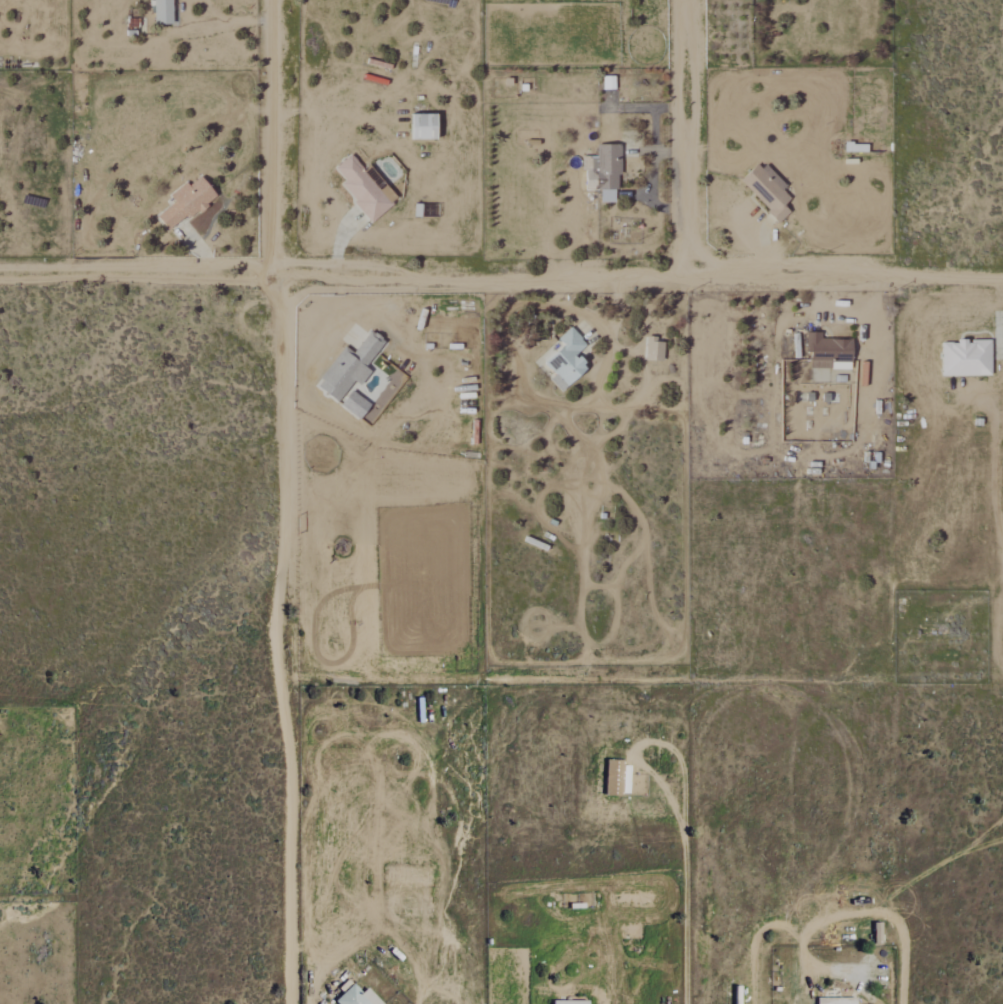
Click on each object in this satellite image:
building: (164, 12)
road: (219, 24)
building: (610, 83)
building: (426, 127)
road: (681, 135)
road: (270, 136)
building: (857, 148)
building: (605, 173)
building: (365, 190)
building: (768, 191)
building: (192, 206)
road: (754, 245)
road: (501, 272)
building: (656, 350)
building: (829, 350)
building: (968, 359)
building: (568, 361)
building: (351, 367)
building: (820, 376)
road: (595, 380)
road: (984, 388)
building: (357, 405)
road: (279, 637)
road: (648, 741)
building: (619, 778)
road: (683, 913)
road: (830, 914)
building: (359, 997)
building: (839, 1000)
building: (573, 1002)

